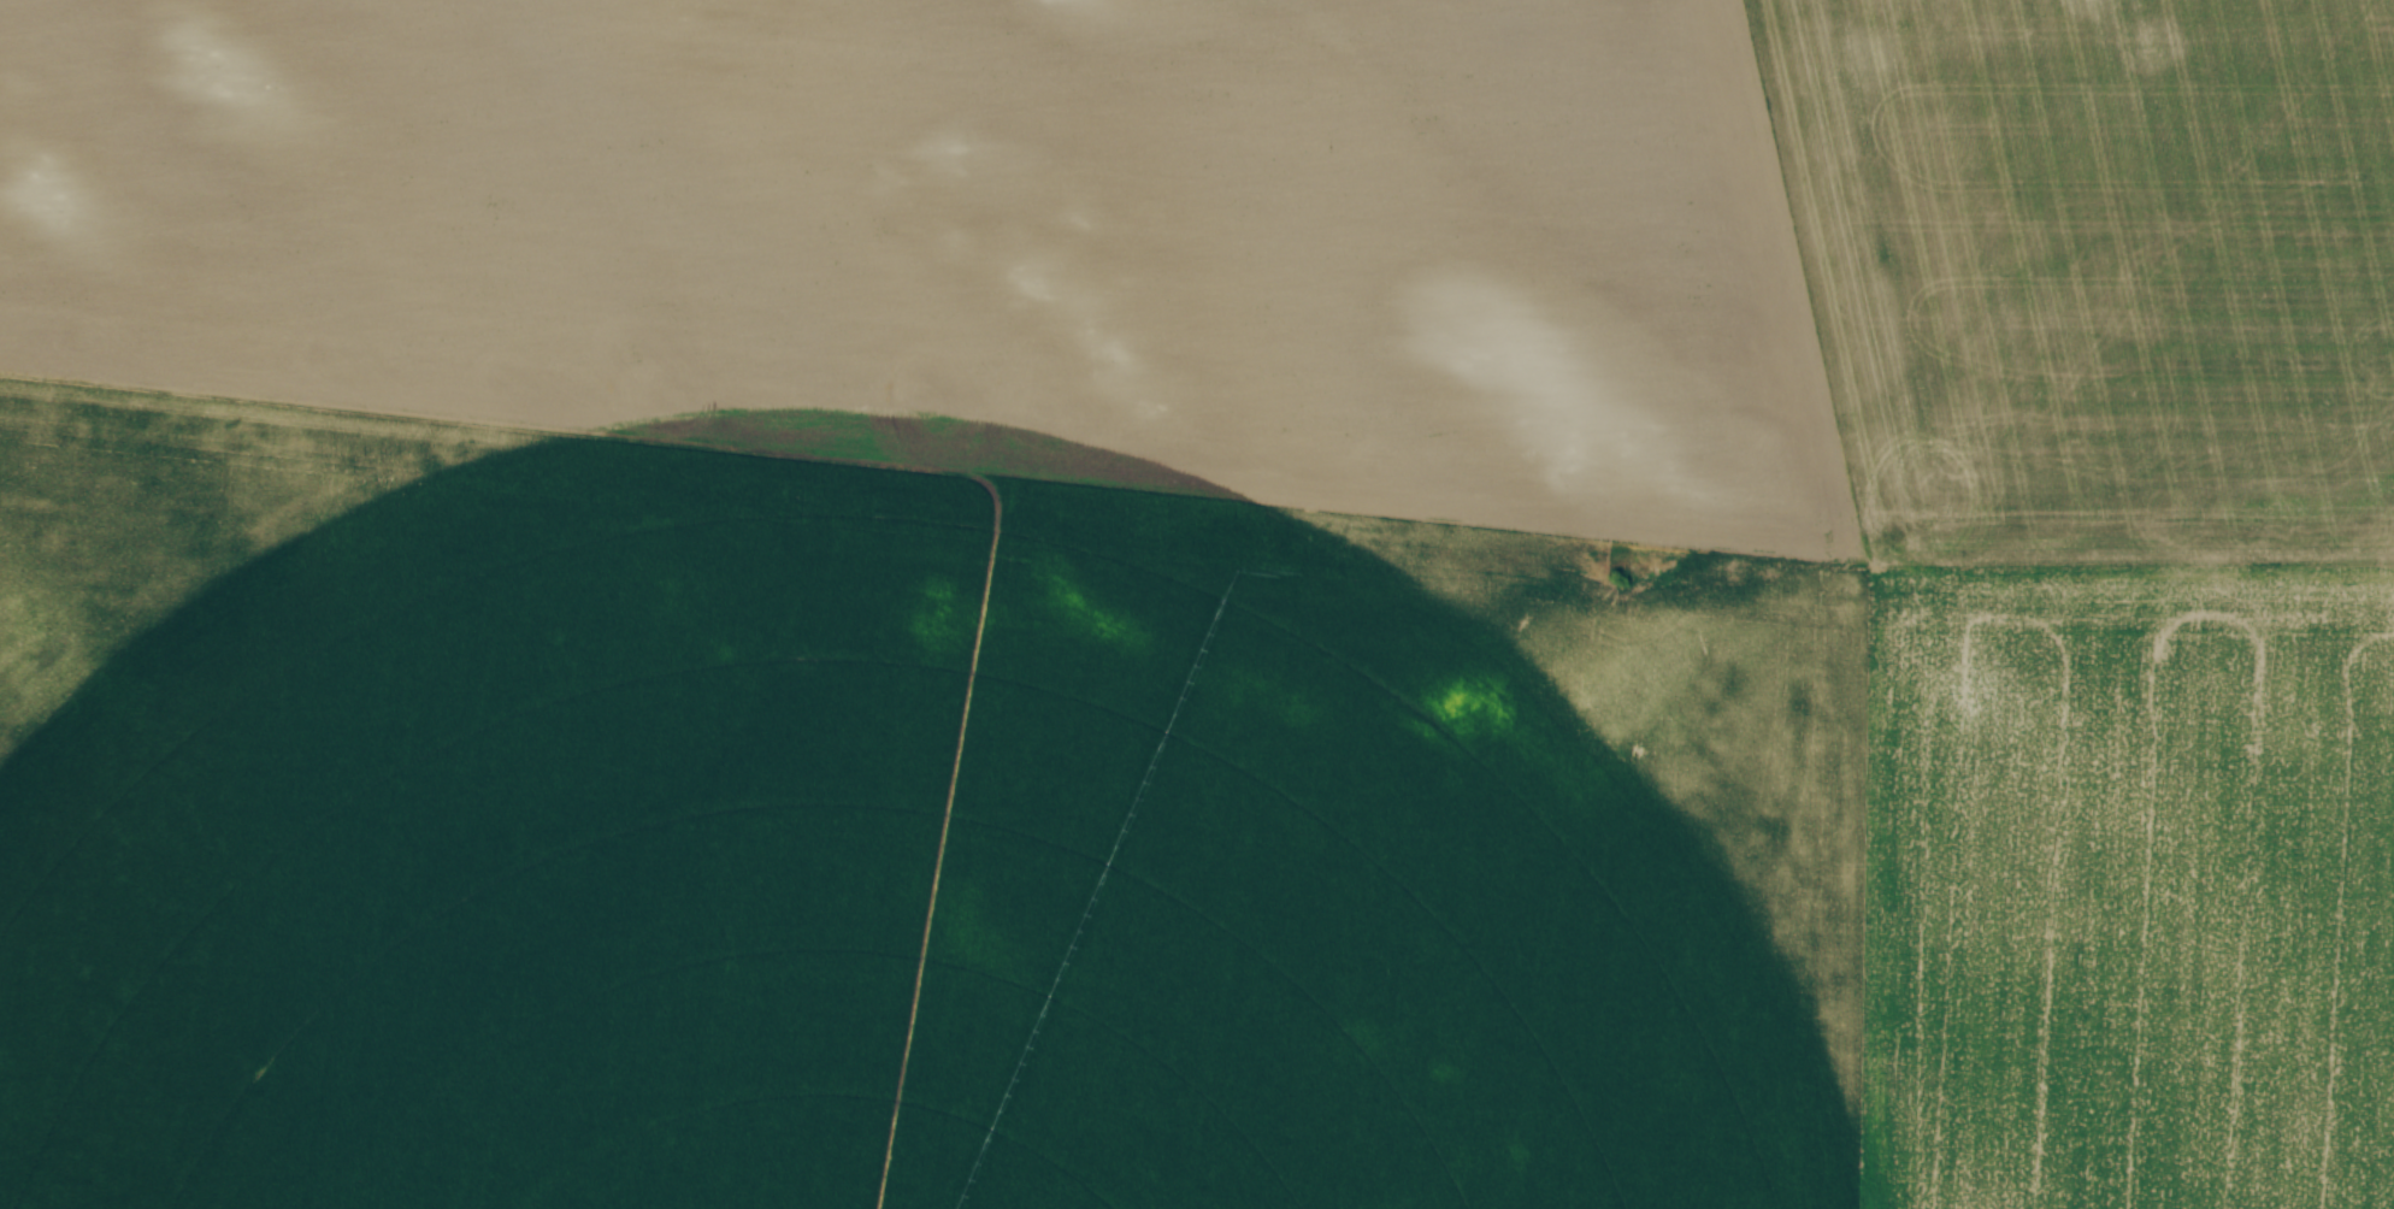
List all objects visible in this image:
crop: (1197, 604)

